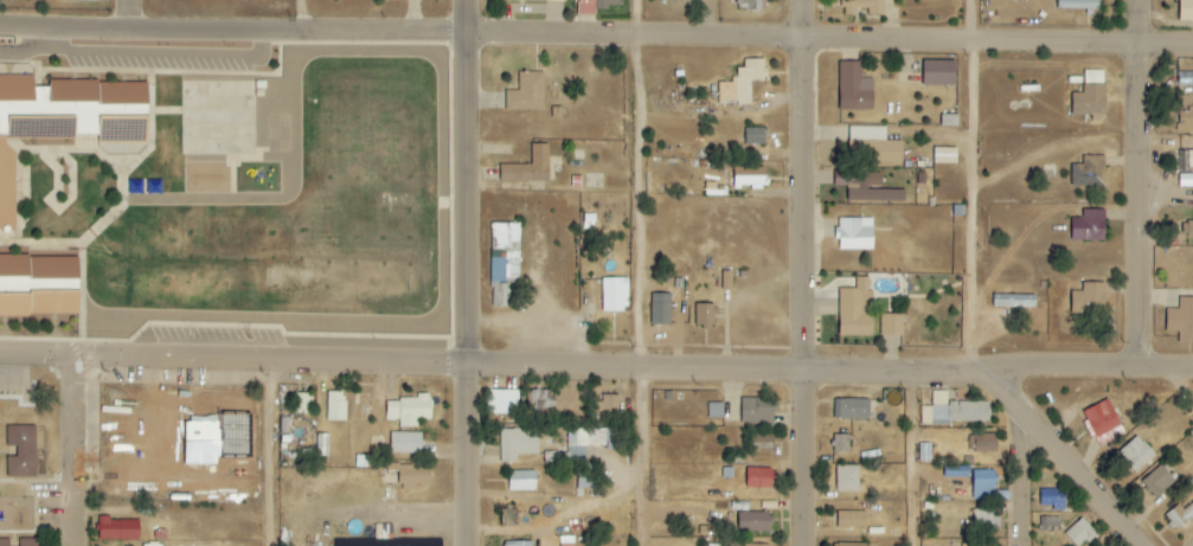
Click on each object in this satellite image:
building: (70, 0)
building: (514, 0)
building: (554, 0)
building: (608, 4)
building: (1076, 4)
building: (750, 5)
building: (861, 7)
building: (1186, 11)
road: (301, 13)
road: (128, 14)
road: (596, 34)
road: (41, 38)
road: (23, 51)
road: (165, 53)
building: (937, 72)
building: (743, 82)
building: (852, 86)
building: (526, 92)
building: (1090, 102)
building: (65, 120)
building: (1185, 121)
building: (753, 136)
building: (879, 144)
building: (944, 156)
building: (528, 167)
building: (1088, 172)
building: (749, 178)
building: (1185, 180)
road: (981, 187)
road: (1146, 187)
building: (873, 191)
building: (1088, 225)
building: (1187, 229)
building: (854, 235)
building: (504, 262)
road: (469, 272)
road: (635, 272)
road: (812, 272)
building: (726, 281)
building: (39, 287)
building: (614, 295)
building: (1089, 298)
building: (1013, 301)
building: (660, 309)
building: (855, 310)
building: (704, 315)
building: (1181, 320)
building: (891, 326)
road: (596, 367)
road: (1184, 385)
building: (539, 399)
building: (501, 402)
building: (302, 404)
building: (609, 405)
building: (335, 406)
building: (851, 409)
building: (408, 410)
building: (716, 410)
building: (954, 411)
building: (755, 412)
building: (1102, 422)
building: (588, 441)
building: (405, 443)
building: (517, 443)
building: (840, 443)
building: (984, 443)
building: (21, 451)
road: (82, 451)
building: (1135, 455)
road: (278, 456)
road: (922, 460)
road: (1070, 461)
building: (410, 476)
building: (586, 478)
building: (758, 478)
building: (847, 478)
road: (1027, 478)
building: (1160, 478)
building: (521, 481)
building: (983, 484)
building: (1051, 500)
building: (851, 520)
building: (1173, 520)
building: (752, 521)
building: (986, 521)
building: (1050, 523)
building: (117, 529)
building: (383, 532)
building: (1079, 533)
building: (565, 540)
building: (28, 541)
building: (5, 542)
building: (365, 542)
building: (518, 544)
building: (851, 544)
building: (979, 544)
building: (757, 545)

